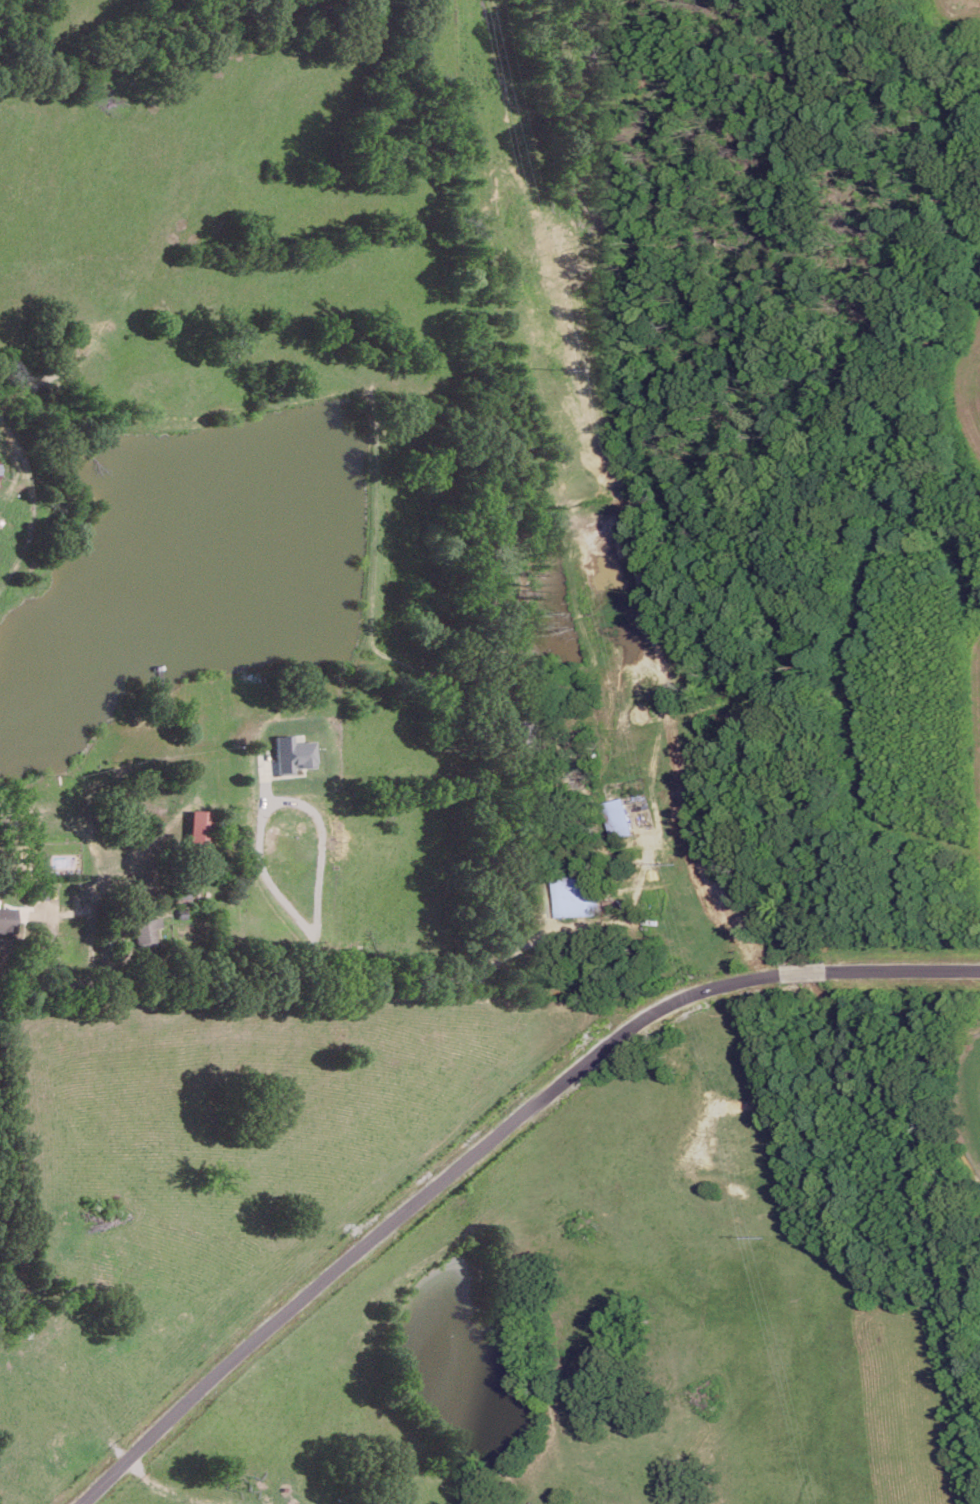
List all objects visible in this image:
building: (292, 754)
road: (297, 803)
building: (616, 818)
building: (199, 826)
building: (41, 887)
building: (182, 895)
building: (575, 895)
building: (7, 919)
building: (144, 930)
road: (323, 974)
road: (483, 1139)

